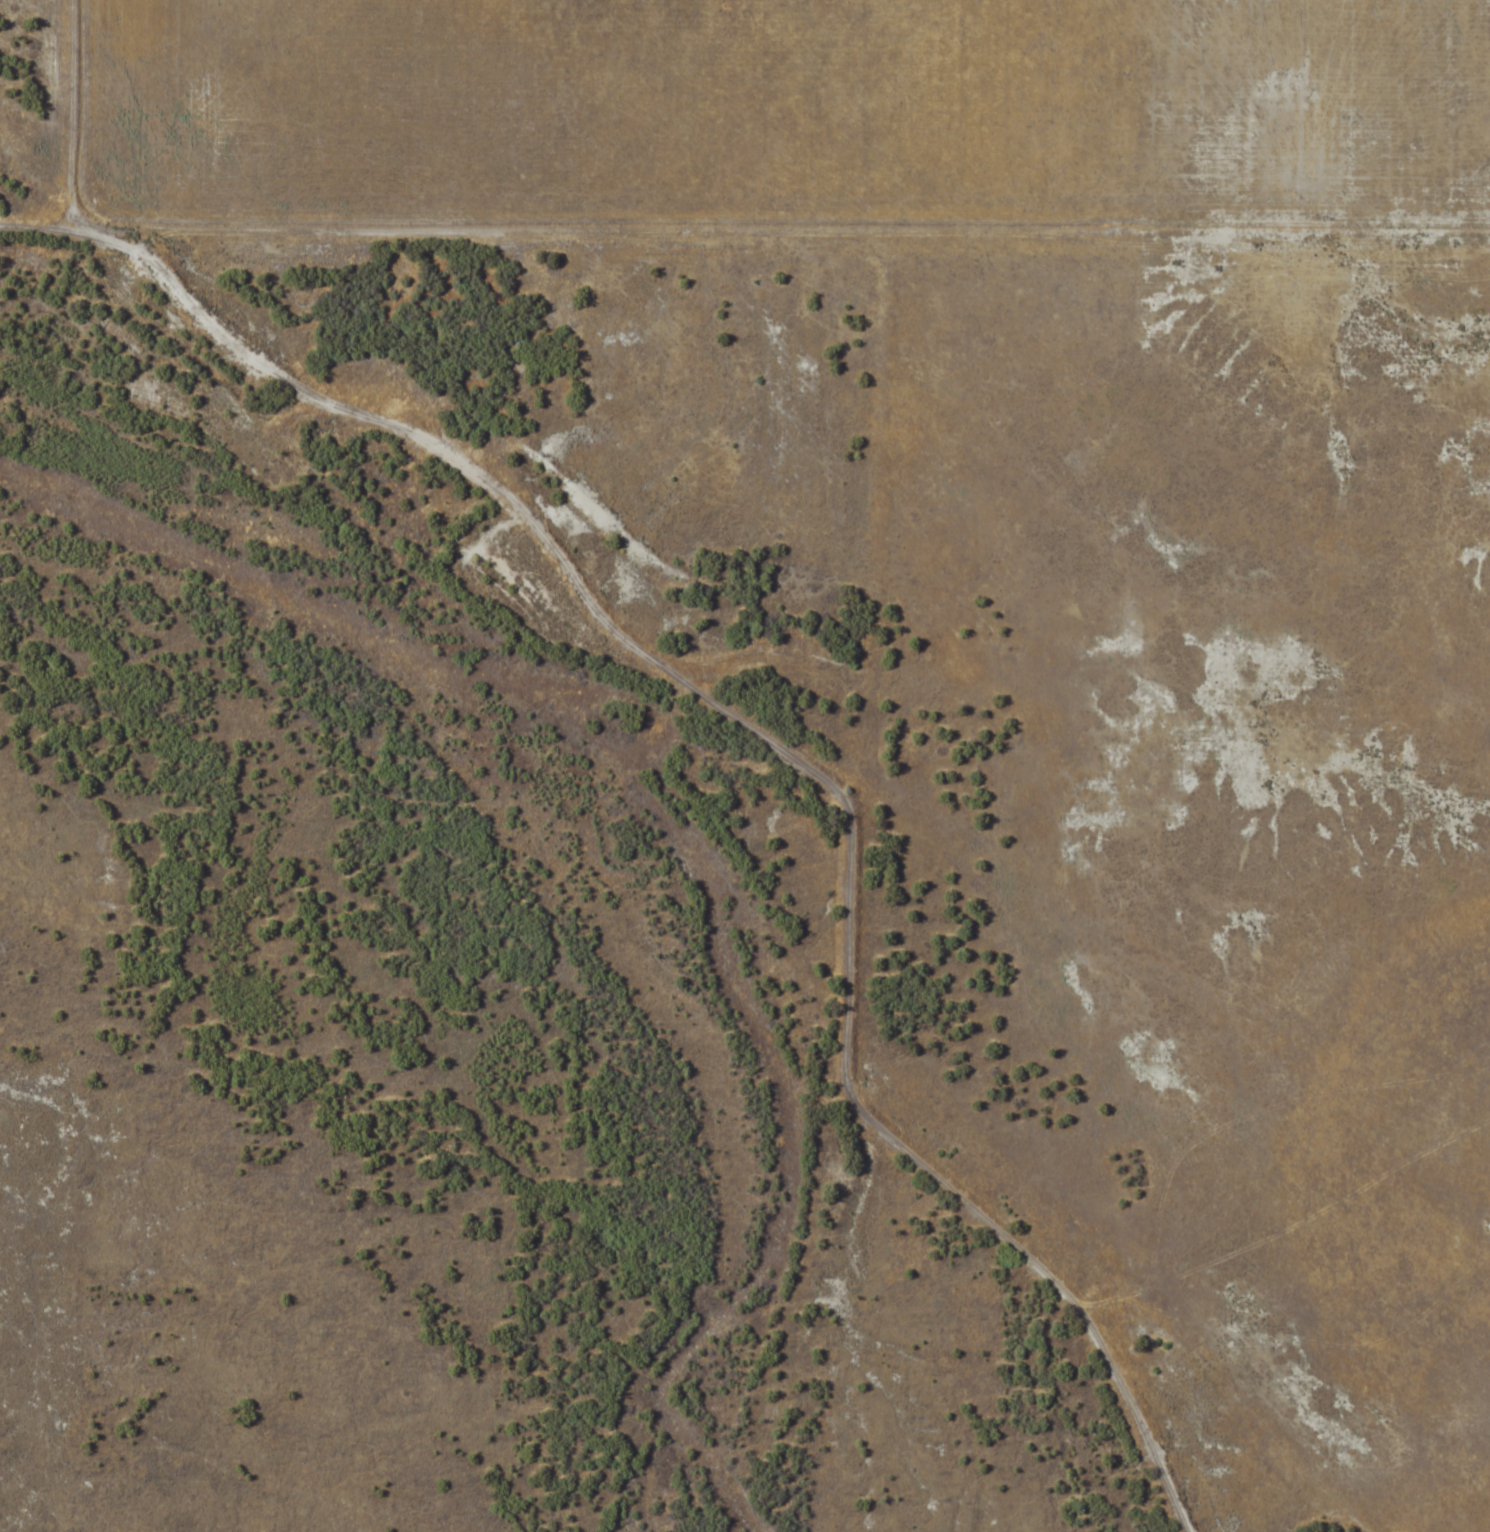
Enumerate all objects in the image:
road: (871, 671)

